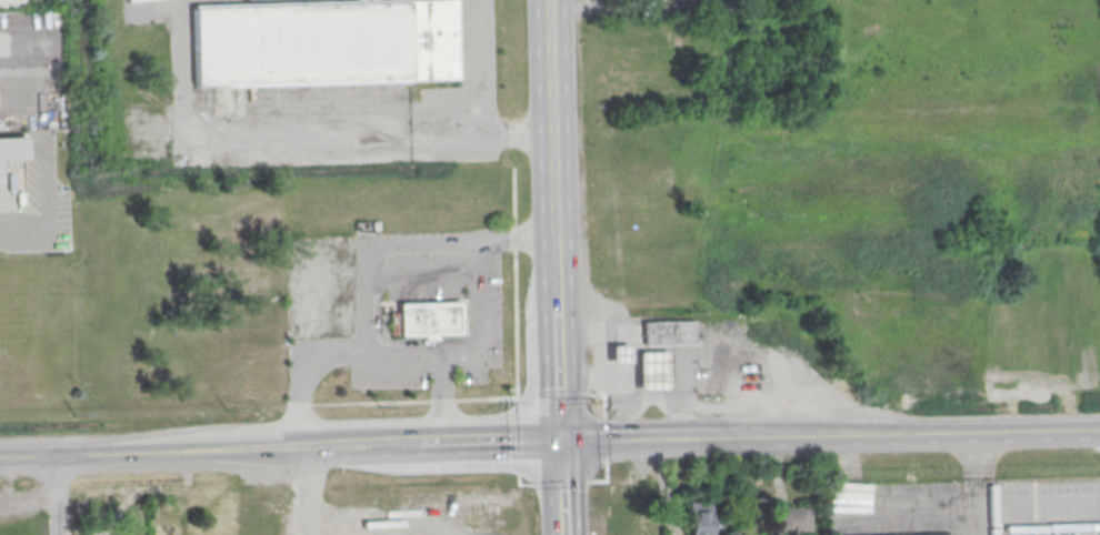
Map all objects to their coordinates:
building: (320, 42)
road: (477, 68)
road: (550, 117)
road: (480, 135)
road: (232, 140)
building: (11, 150)
road: (513, 195)
road: (22, 230)
road: (514, 236)
road: (402, 242)
road: (554, 271)
road: (420, 274)
building: (424, 320)
road: (516, 327)
building: (667, 332)
road: (380, 339)
road: (477, 353)
building: (618, 356)
building: (650, 373)
road: (557, 374)
road: (301, 375)
road: (602, 375)
road: (580, 382)
road: (557, 395)
road: (603, 396)
road: (442, 398)
road: (492, 398)
road: (671, 400)
road: (442, 401)
road: (358, 402)
road: (922, 433)
road: (517, 434)
road: (651, 438)
road: (603, 440)
traffic signals: (559, 442)
road: (433, 444)
road: (154, 452)
road: (606, 480)
road: (561, 481)
road: (519, 482)
road: (560, 488)
road: (310, 492)
road: (56, 495)
road: (1050, 499)
building: (698, 517)
building: (792, 519)

